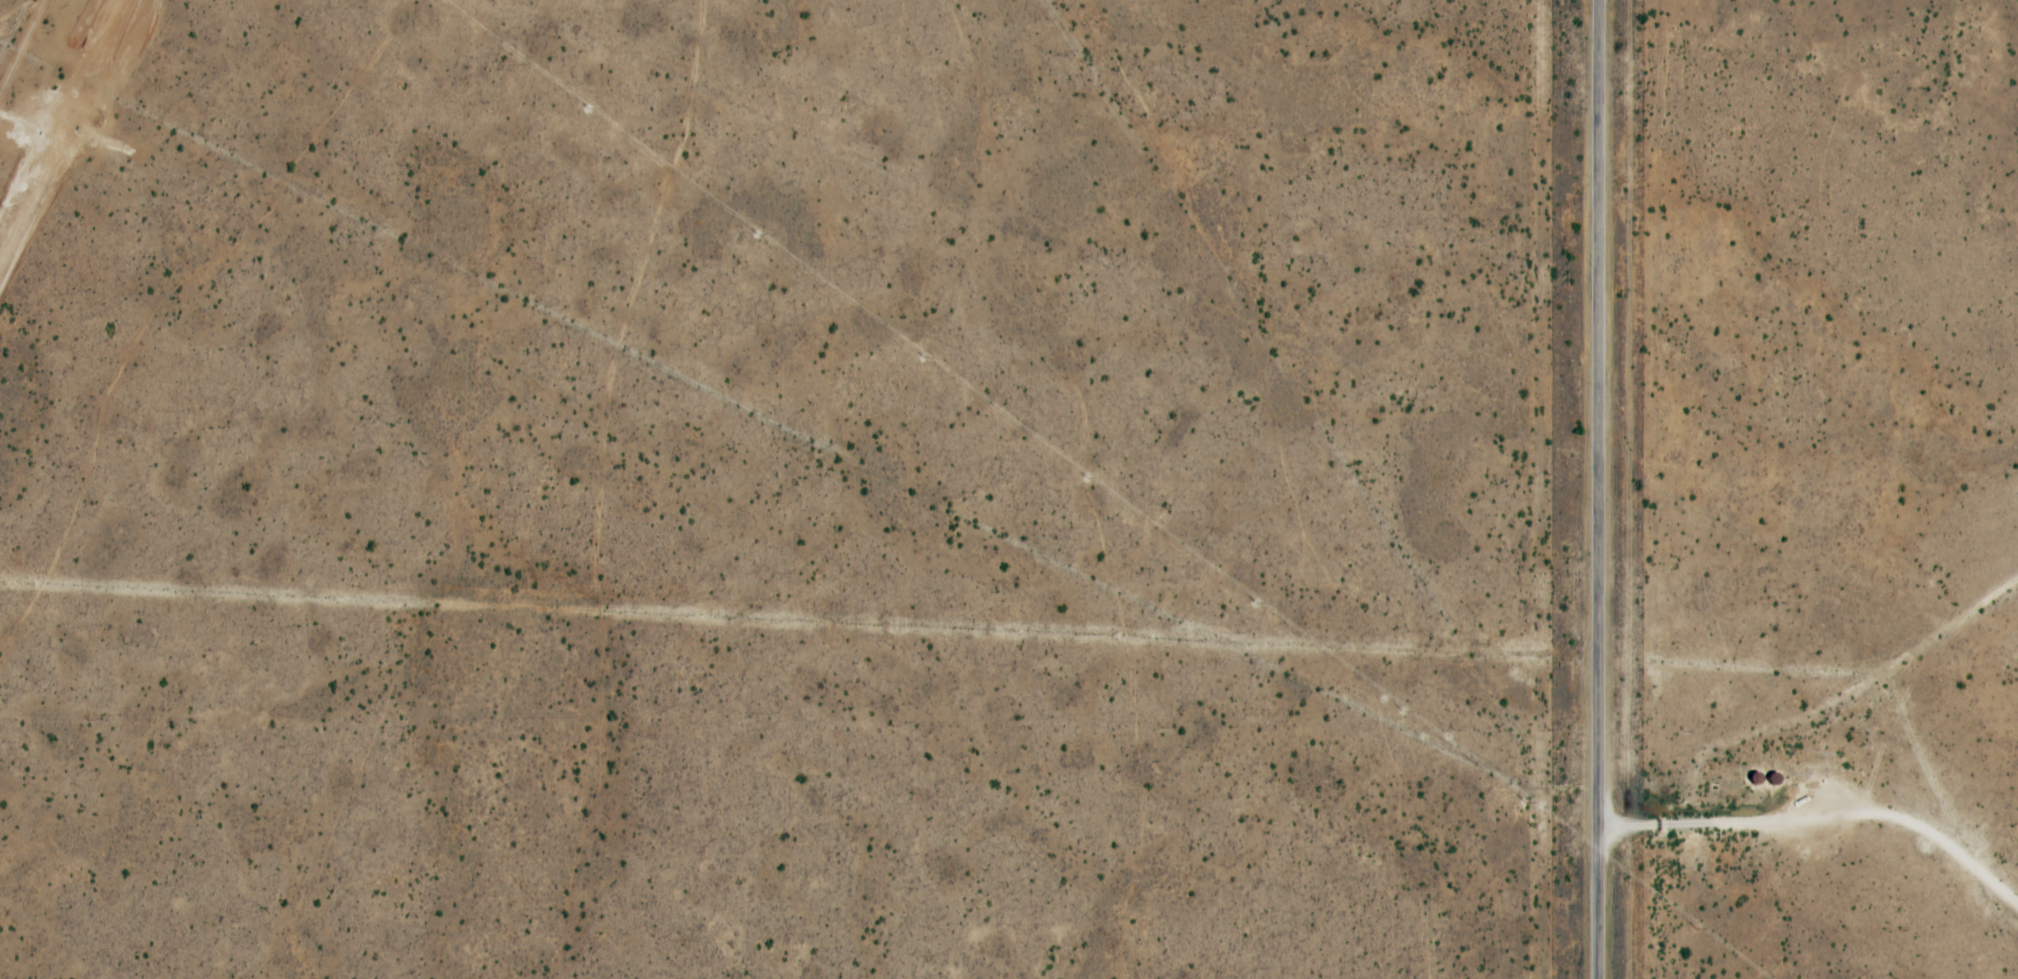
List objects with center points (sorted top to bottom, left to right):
road: (1598, 489)
road: (1808, 671)
road: (1834, 816)

